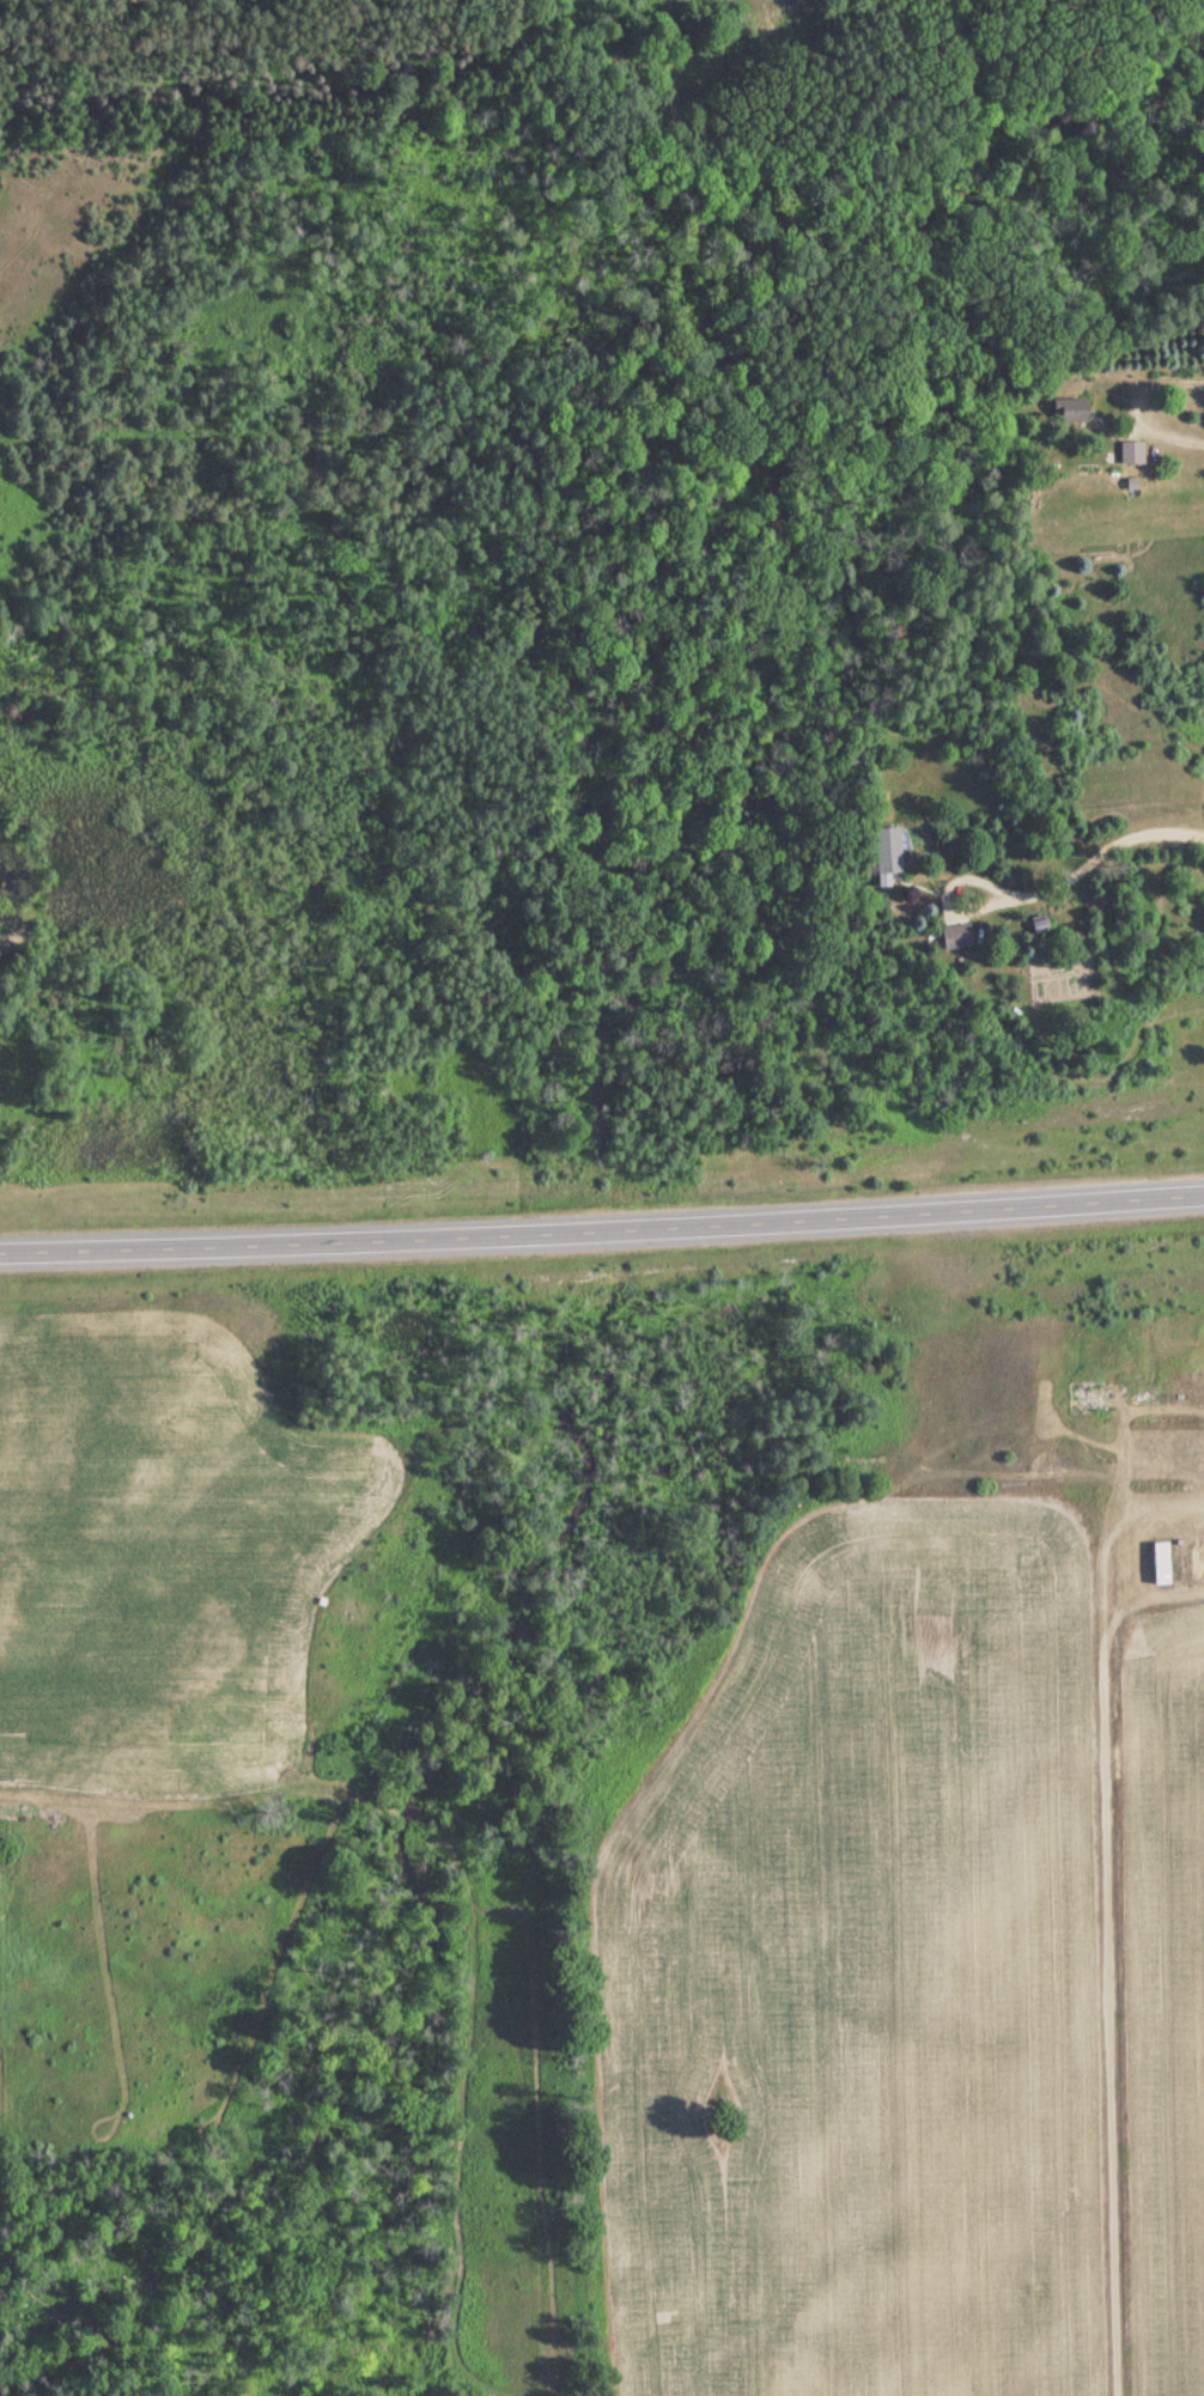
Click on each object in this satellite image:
road: (261, 90)
road: (93, 220)
road: (706, 327)
road: (308, 382)
building: (1068, 411)
building: (1129, 450)
building: (883, 849)
building: (954, 936)
road: (602, 1228)
building: (1157, 1561)
crop: (866, 1974)
crop: (1161, 1999)

